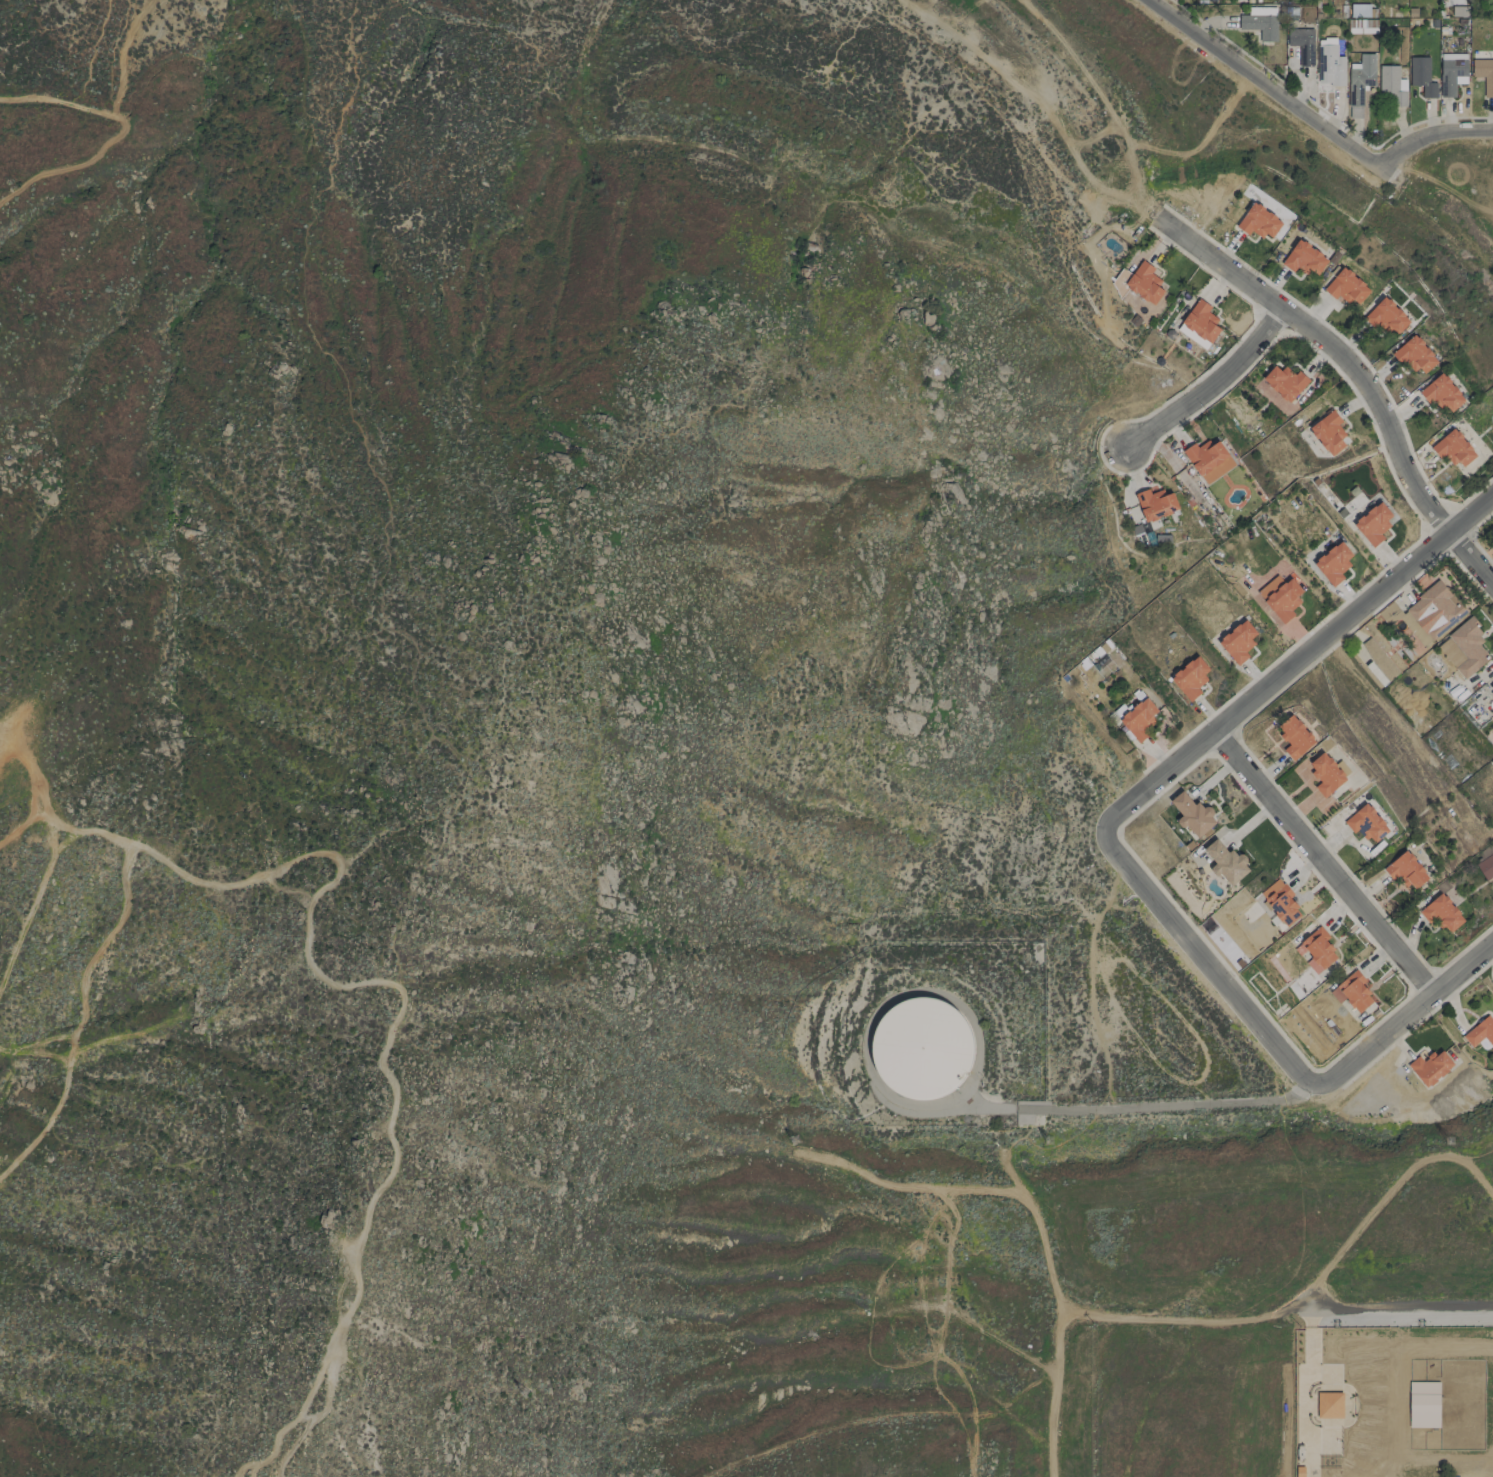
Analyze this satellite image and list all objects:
building: (1359, 10)
building: (1459, 11)
building: (1260, 23)
building: (1362, 26)
building: (1302, 44)
building: (1329, 63)
building: (1451, 72)
building: (1484, 74)
building: (1421, 76)
building: (1359, 83)
road: (1267, 85)
building: (1391, 86)
road: (116, 134)
road: (1430, 140)
building: (1258, 221)
building: (1303, 258)
building: (1141, 283)
building: (1346, 287)
building: (1386, 316)
building: (1201, 321)
building: (1416, 355)
road: (1357, 372)
building: (1284, 381)
road: (1207, 383)
building: (1441, 393)
building: (1328, 432)
building: (1453, 448)
building: (1208, 460)
building: (1155, 504)
building: (1373, 523)
building: (1333, 563)
building: (1280, 597)
building: (1424, 616)
building: (1238, 641)
building: (1464, 648)
building: (1378, 658)
road: (1295, 664)
building: (1373, 668)
building: (1190, 678)
building: (1491, 693)
building: (1136, 718)
building: (1294, 737)
building: (1320, 774)
building: (1193, 814)
building: (1366, 823)
road: (1325, 861)
building: (1485, 861)
building: (1226, 862)
building: (1406, 870)
building: (1280, 901)
building: (1441, 913)
building: (1318, 948)
road: (1205, 962)
road: (1461, 967)
road: (366, 984)
building: (1352, 991)
building: (1480, 1032)
road: (1376, 1038)
building: (921, 1048)
storage tank: (921, 1048)
building: (1430, 1067)
road: (1135, 1106)
road: (1297, 1312)
road: (1056, 1369)

